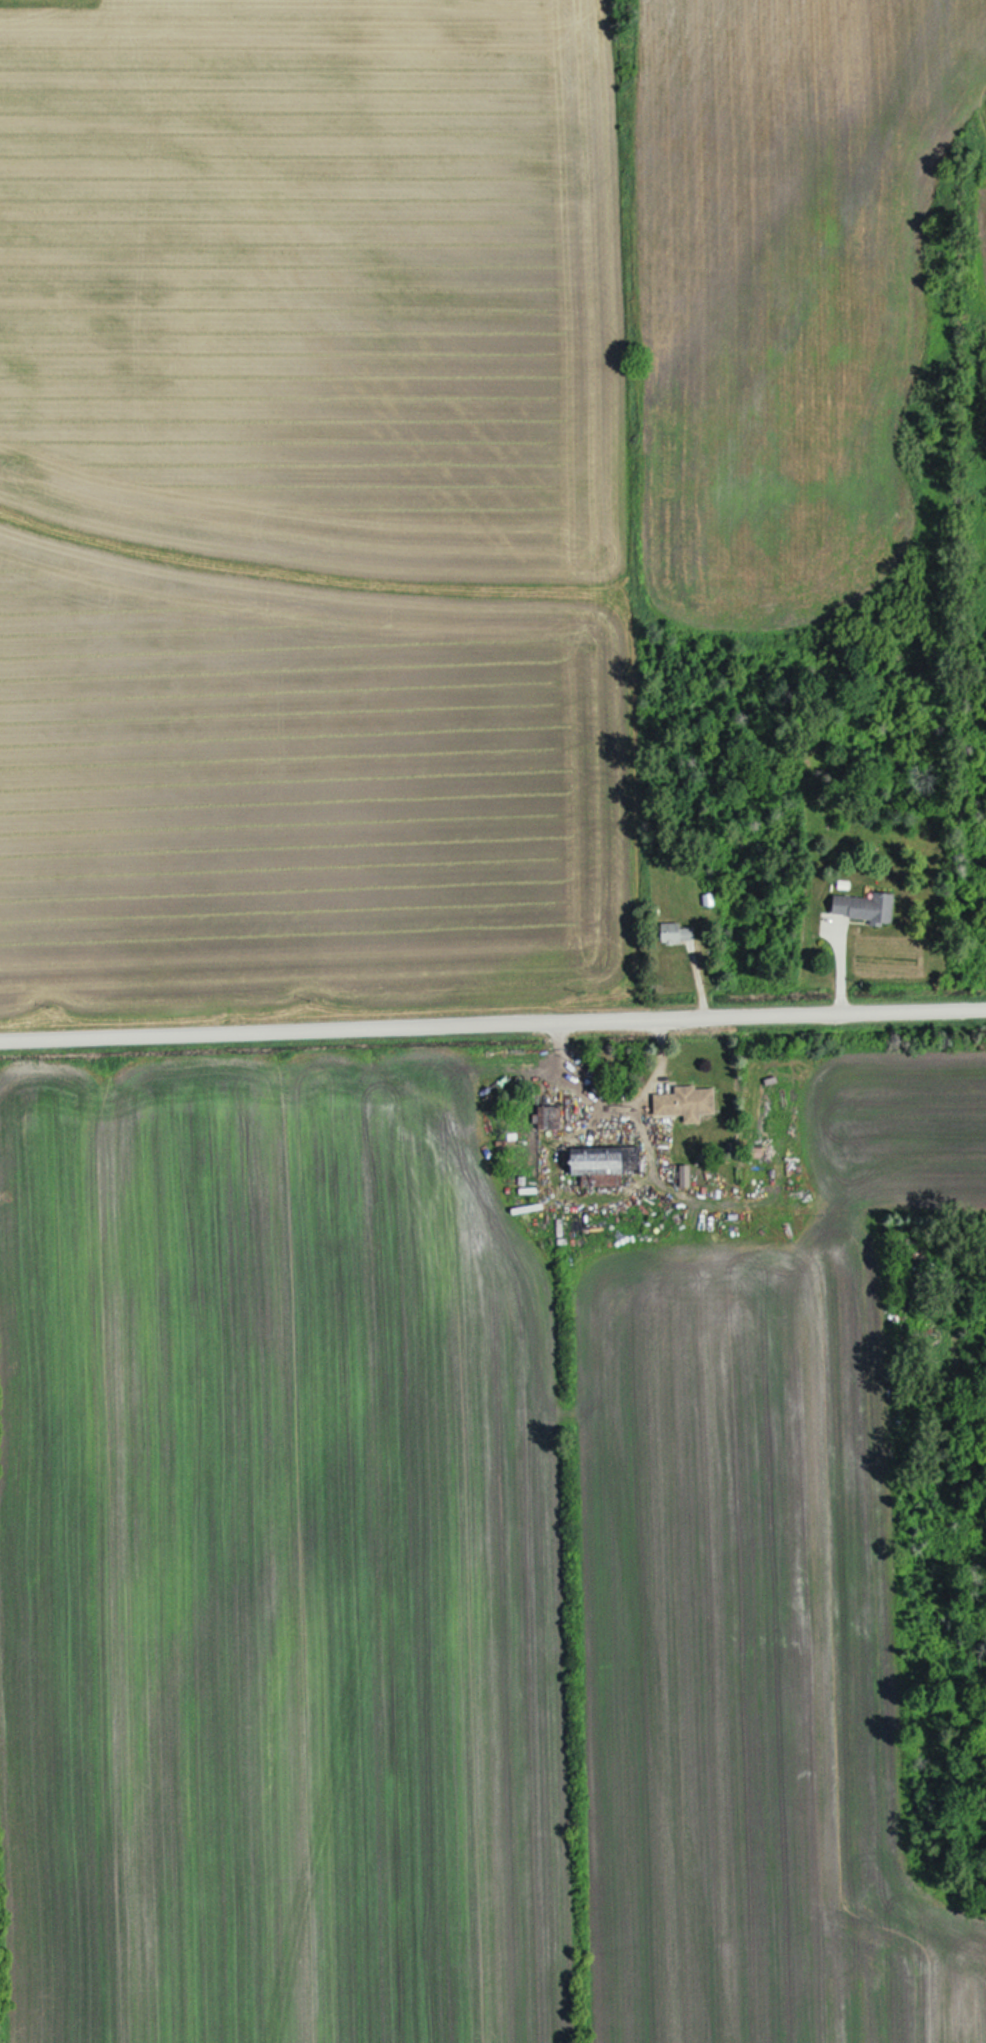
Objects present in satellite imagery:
building: (866, 907)
building: (678, 933)
road: (493, 1024)
building: (687, 1103)

